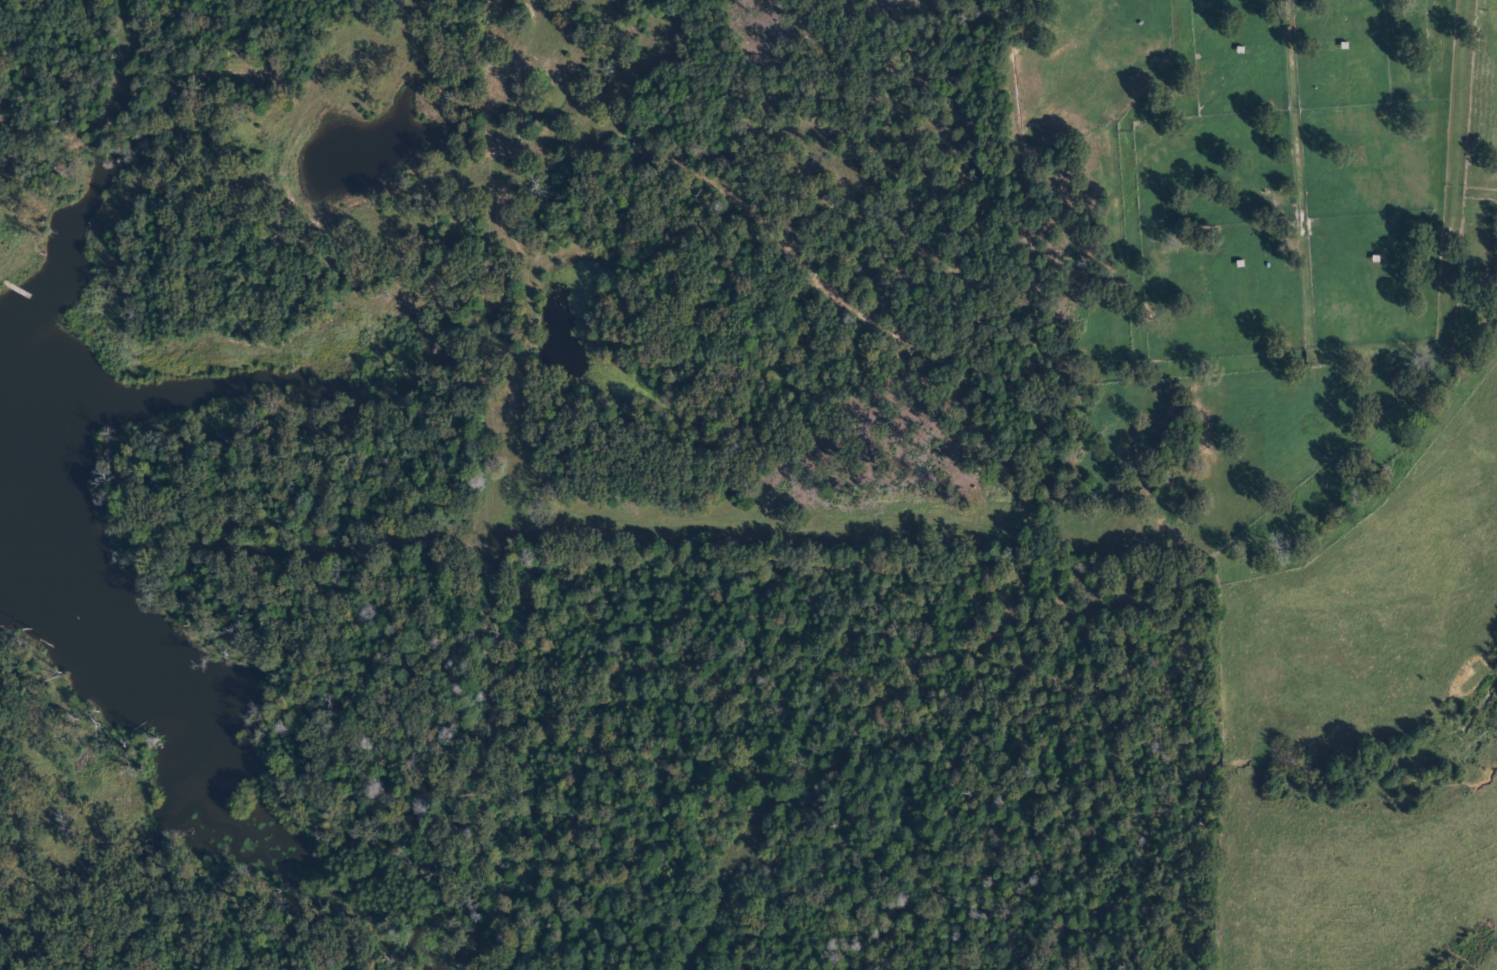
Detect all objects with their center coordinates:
road: (788, 542)

